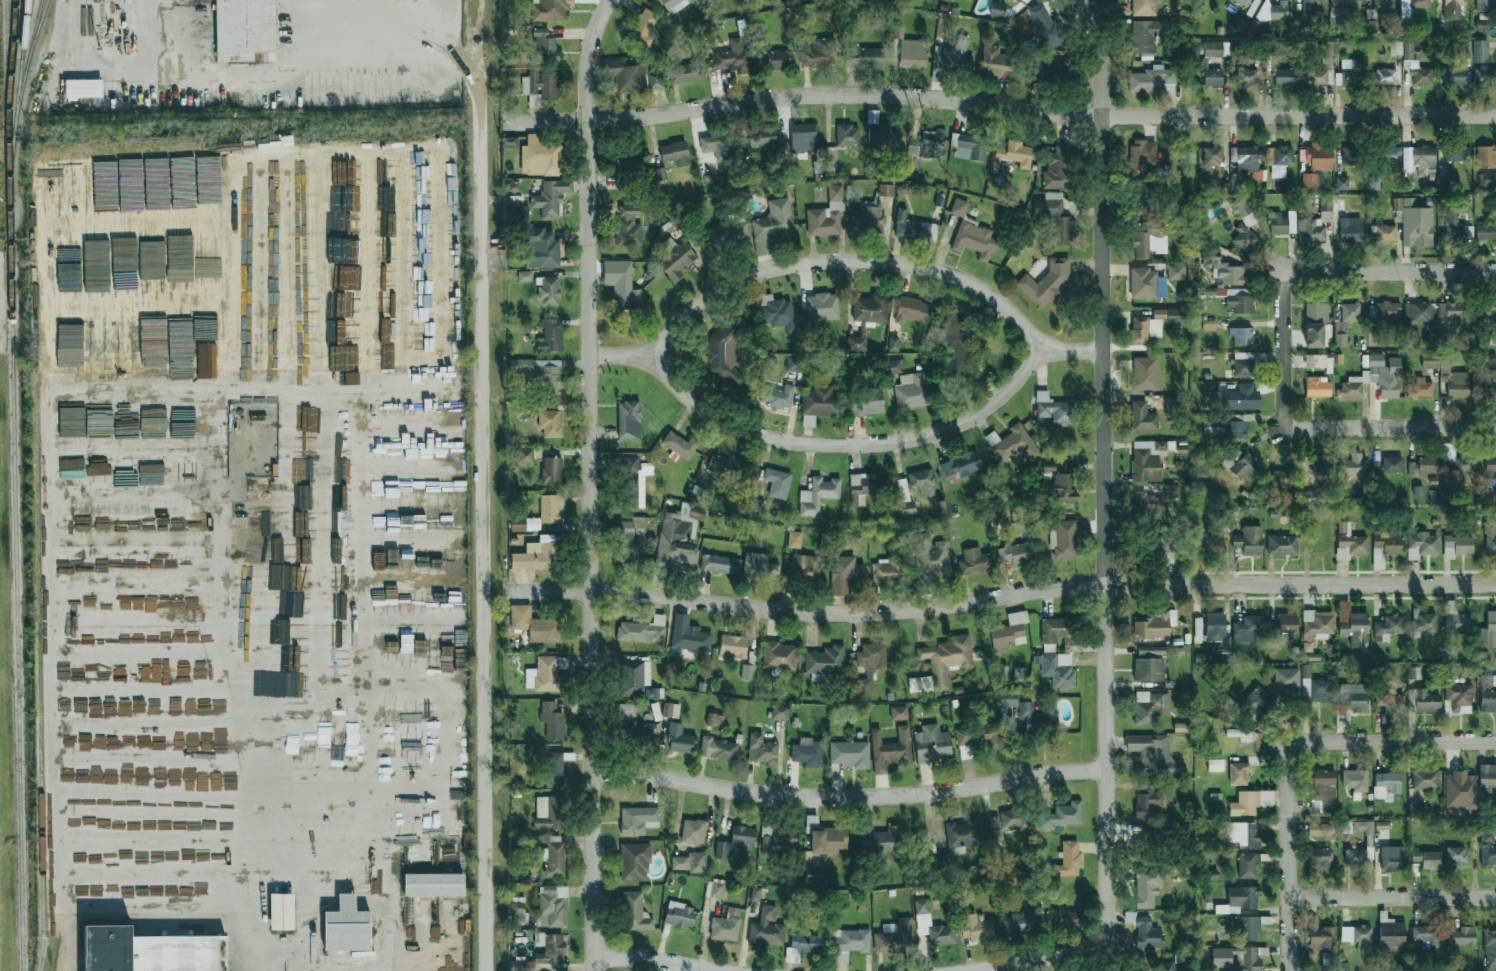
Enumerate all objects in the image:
building: (1021, 0)
building: (1243, 2)
building: (1344, 3)
building: (674, 4)
building: (1383, 4)
building: (1453, 4)
building: (1485, 5)
building: (1411, 7)
building: (1143, 8)
building: (997, 9)
building: (1310, 9)
building: (549, 10)
building: (1280, 10)
building: (1264, 13)
building: (1238, 24)
building: (1482, 24)
building: (1371, 26)
road: (408, 27)
road: (445, 27)
building: (644, 27)
building: (1046, 27)
railway: (24, 29)
building: (244, 30)
railway: (33, 35)
building: (1146, 35)
building: (543, 43)
road: (479, 46)
building: (1395, 47)
building: (1466, 48)
building: (1216, 49)
building: (1278, 49)
building: (1480, 51)
building: (818, 53)
building: (913, 53)
building: (864, 56)
building: (956, 56)
building: (734, 58)
building: (779, 59)
railway: (11, 60)
building: (995, 62)
building: (1325, 64)
railway: (21, 66)
building: (1415, 66)
building: (1047, 70)
road: (464, 72)
building: (685, 72)
building: (1351, 72)
building: (627, 73)
building: (1454, 73)
road: (221, 74)
building: (1211, 75)
building: (1485, 75)
building: (1384, 76)
building: (1245, 77)
building: (1283, 77)
building: (1150, 79)
building: (654, 80)
building: (540, 84)
building: (83, 88)
railway: (19, 98)
building: (534, 101)
road: (998, 106)
building: (882, 132)
building: (847, 135)
building: (762, 137)
building: (802, 137)
building: (717, 146)
building: (970, 147)
building: (925, 148)
building: (674, 153)
building: (1457, 153)
building: (1142, 154)
building: (1389, 154)
building: (1011, 156)
building: (1211, 156)
building: (1317, 156)
building: (1351, 156)
building: (540, 157)
building: (1486, 157)
building: (1244, 158)
building: (1278, 159)
building: (1420, 159)
road: (402, 162)
building: (181, 164)
building: (625, 164)
building: (155, 165)
building: (1058, 169)
building: (100, 172)
building: (208, 173)
building: (660, 173)
building: (1312, 180)
building: (710, 181)
building: (1487, 181)
building: (57, 183)
building: (1341, 183)
building: (886, 190)
building: (1144, 195)
building: (183, 196)
building: (551, 197)
building: (1338, 204)
building: (516, 206)
building: (958, 207)
building: (1243, 212)
building: (826, 216)
building: (1054, 216)
road: (139, 220)
building: (867, 220)
building: (1330, 220)
building: (1415, 221)
building: (350, 222)
building: (1457, 222)
building: (1282, 223)
building: (628, 226)
building: (772, 226)
building: (913, 228)
building: (390, 230)
building: (1486, 231)
building: (1383, 233)
building: (727, 235)
building: (1245, 238)
building: (974, 240)
building: (1148, 240)
building: (541, 248)
building: (305, 252)
building: (382, 255)
building: (346, 260)
building: (676, 261)
road: (843, 261)
building: (113, 263)
building: (1226, 271)
road: (1388, 271)
building: (1175, 272)
building: (524, 276)
building: (1047, 282)
building: (1146, 283)
building: (621, 284)
building: (548, 290)
building: (1239, 300)
building: (822, 307)
building: (349, 310)
building: (913, 310)
building: (1385, 310)
building: (776, 312)
building: (1350, 312)
building: (1453, 313)
building: (1487, 314)
building: (867, 317)
building: (1415, 320)
building: (1154, 324)
building: (1316, 325)
building: (1340, 334)
building: (550, 336)
building: (1243, 336)
building: (956, 342)
building: (893, 344)
building: (96, 348)
road: (1280, 350)
building: (724, 352)
building: (183, 354)
building: (1316, 360)
building: (1489, 361)
building: (794, 363)
building: (896, 365)
building: (1243, 368)
building: (539, 373)
building: (1144, 373)
building: (1447, 374)
building: (349, 378)
building: (1373, 379)
building: (1486, 385)
building: (1317, 386)
building: (1420, 388)
building: (912, 390)
building: (777, 396)
building: (1241, 397)
building: (865, 402)
building: (819, 404)
building: (1173, 404)
building: (1056, 410)
building: (70, 417)
building: (98, 417)
building: (1142, 417)
building: (628, 420)
building: (549, 423)
building: (1229, 426)
road: (1388, 428)
road: (846, 443)
building: (678, 444)
building: (303, 446)
building: (1013, 446)
building: (524, 455)
building: (1148, 459)
building: (1455, 460)
building: (71, 464)
building: (1239, 464)
building: (1392, 464)
building: (961, 466)
building: (1321, 466)
building: (1423, 466)
building: (724, 467)
building: (1350, 467)
building: (1490, 469)
building: (98, 470)
building: (340, 470)
building: (551, 471)
building: (638, 473)
building: (1282, 478)
road: (589, 482)
building: (777, 483)
road: (1103, 483)
building: (1059, 484)
railway: (14, 485)
building: (865, 487)
building: (913, 489)
building: (632, 491)
building: (1171, 491)
building: (818, 494)
building: (1150, 503)
building: (757, 508)
building: (540, 515)
road: (57, 528)
road: (480, 532)
building: (678, 537)
building: (1490, 537)
building: (1066, 538)
building: (794, 539)
building: (1249, 541)
building: (1419, 541)
building: (626, 542)
building: (1350, 542)
building: (1214, 545)
building: (1281, 545)
building: (1457, 546)
building: (1385, 547)
building: (1018, 553)
building: (535, 557)
building: (929, 557)
building: (975, 562)
building: (719, 564)
building: (759, 567)
building: (804, 568)
building: (889, 571)
building: (844, 574)
road: (1002, 595)
building: (1456, 618)
building: (1424, 621)
building: (1287, 623)
building: (534, 625)
building: (1155, 626)
building: (1316, 627)
building: (1387, 627)
building: (1247, 628)
building: (1354, 628)
building: (645, 629)
building: (1009, 630)
building: (1217, 630)
building: (1066, 631)
building: (1488, 631)
building: (691, 640)
building: (733, 647)
building: (777, 656)
building: (873, 656)
building: (614, 661)
building: (828, 661)
building: (943, 661)
building: (1149, 664)
building: (749, 666)
building: (1059, 669)
railway: (39, 670)
building: (1305, 671)
building: (547, 673)
building: (1003, 673)
building: (1021, 674)
building: (632, 679)
building: (1286, 680)
road: (374, 682)
building: (864, 686)
building: (958, 689)
building: (1322, 691)
building: (653, 693)
building: (1487, 693)
road: (229, 695)
building: (1458, 697)
building: (1007, 698)
building: (1256, 700)
building: (1426, 701)
building: (1391, 703)
building: (954, 704)
building: (1150, 707)
building: (669, 710)
building: (944, 710)
building: (654, 711)
building: (620, 712)
building: (779, 712)
building: (899, 712)
building: (715, 719)
building: (552, 720)
building: (1034, 722)
building: (795, 723)
building: (639, 730)
building: (1240, 734)
building: (979, 736)
building: (678, 738)
building: (739, 739)
road: (1390, 740)
building: (931, 743)
building: (720, 748)
building: (760, 749)
building: (889, 750)
building: (807, 753)
building: (849, 753)
building: (1152, 755)
building: (1215, 765)
building: (553, 769)
building: (1238, 773)
building: (1425, 778)
building: (1355, 780)
building: (1487, 782)
building: (1386, 785)
building: (1323, 791)
building: (1459, 791)
road: (848, 798)
building: (1147, 798)
building: (1250, 802)
building: (1418, 809)
building: (548, 812)
building: (1062, 815)
building: (638, 820)
building: (1007, 823)
building: (1364, 827)
building: (1320, 830)
building: (693, 831)
building: (1243, 835)
building: (825, 838)
building: (775, 840)
building: (735, 841)
building: (882, 842)
building: (1487, 849)
road: (1285, 855)
building: (554, 856)
building: (1455, 856)
building: (1355, 857)
building: (1319, 858)
building: (1391, 858)
building: (1068, 859)
building: (1427, 859)
building: (634, 862)
building: (689, 862)
building: (351, 864)
building: (1247, 866)
building: (812, 875)
building: (433, 884)
building: (1146, 887)
building: (717, 889)
building: (1243, 896)
road: (1391, 898)
building: (552, 906)
building: (281, 911)
building: (635, 912)
building: (922, 912)
building: (680, 915)
building: (1063, 918)
building: (1019, 923)
building: (346, 926)
building: (726, 926)
building: (766, 928)
building: (975, 928)
building: (1245, 928)
building: (1391, 932)
building: (1147, 934)
building: (1319, 935)
building: (1424, 936)
building: (894, 937)
building: (1358, 937)
building: (1462, 938)
road: (70, 940)
building: (849, 943)
building: (802, 945)
building: (550, 948)
building: (1490, 948)
building: (150, 951)
road: (1039, 957)
building: (1221, 957)
building: (1251, 957)
road: (648, 962)
building: (1166, 966)
road: (274, 970)

